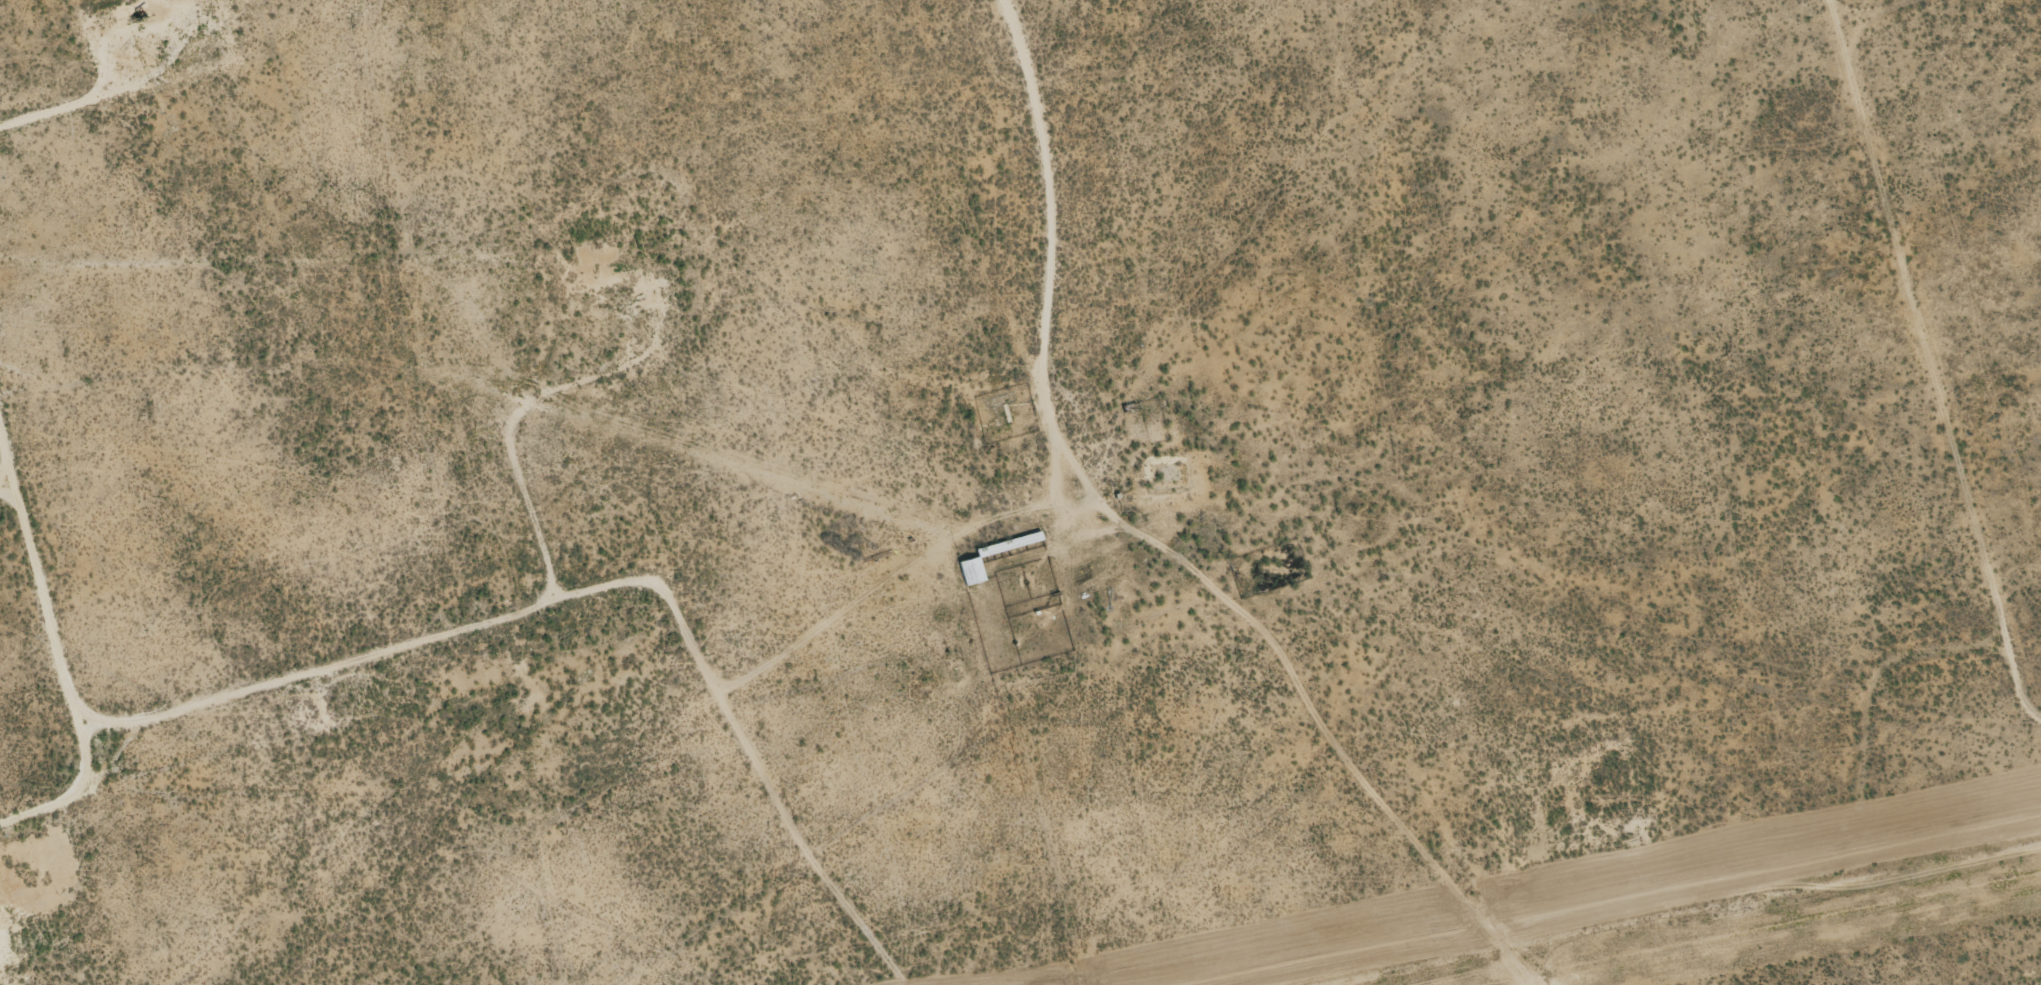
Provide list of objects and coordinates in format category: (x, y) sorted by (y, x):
road: (1971, 34)
road: (1110, 217)
road: (1963, 296)
road: (562, 465)
road: (414, 649)

